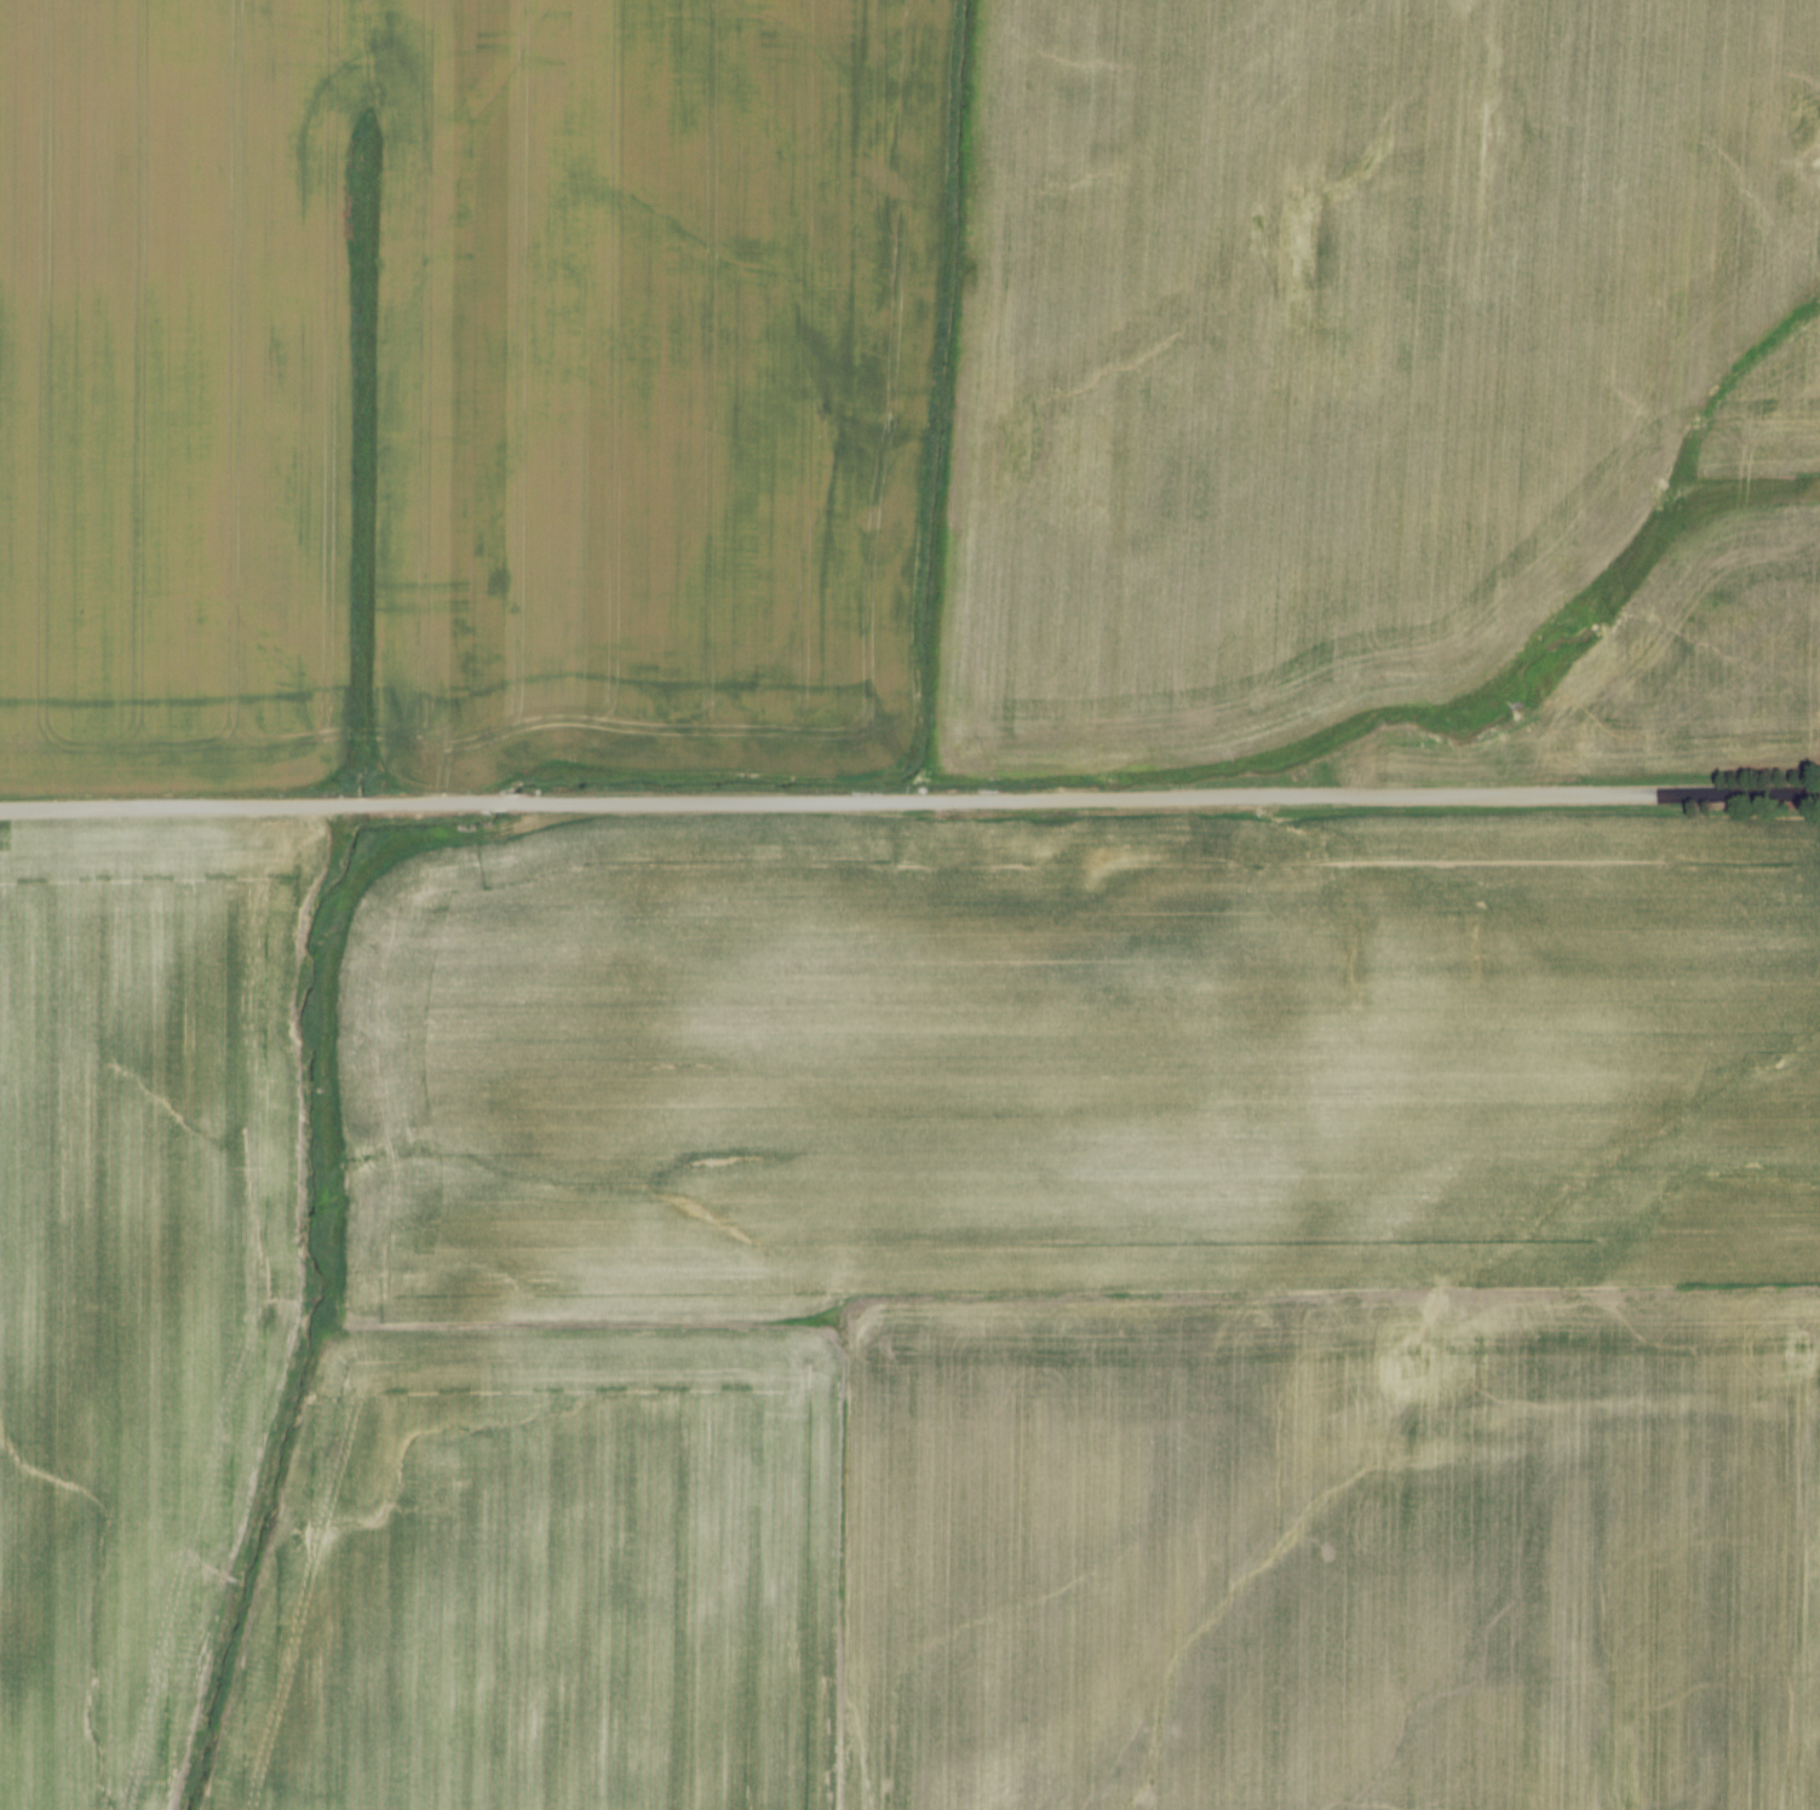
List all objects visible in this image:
road: (909, 801)

